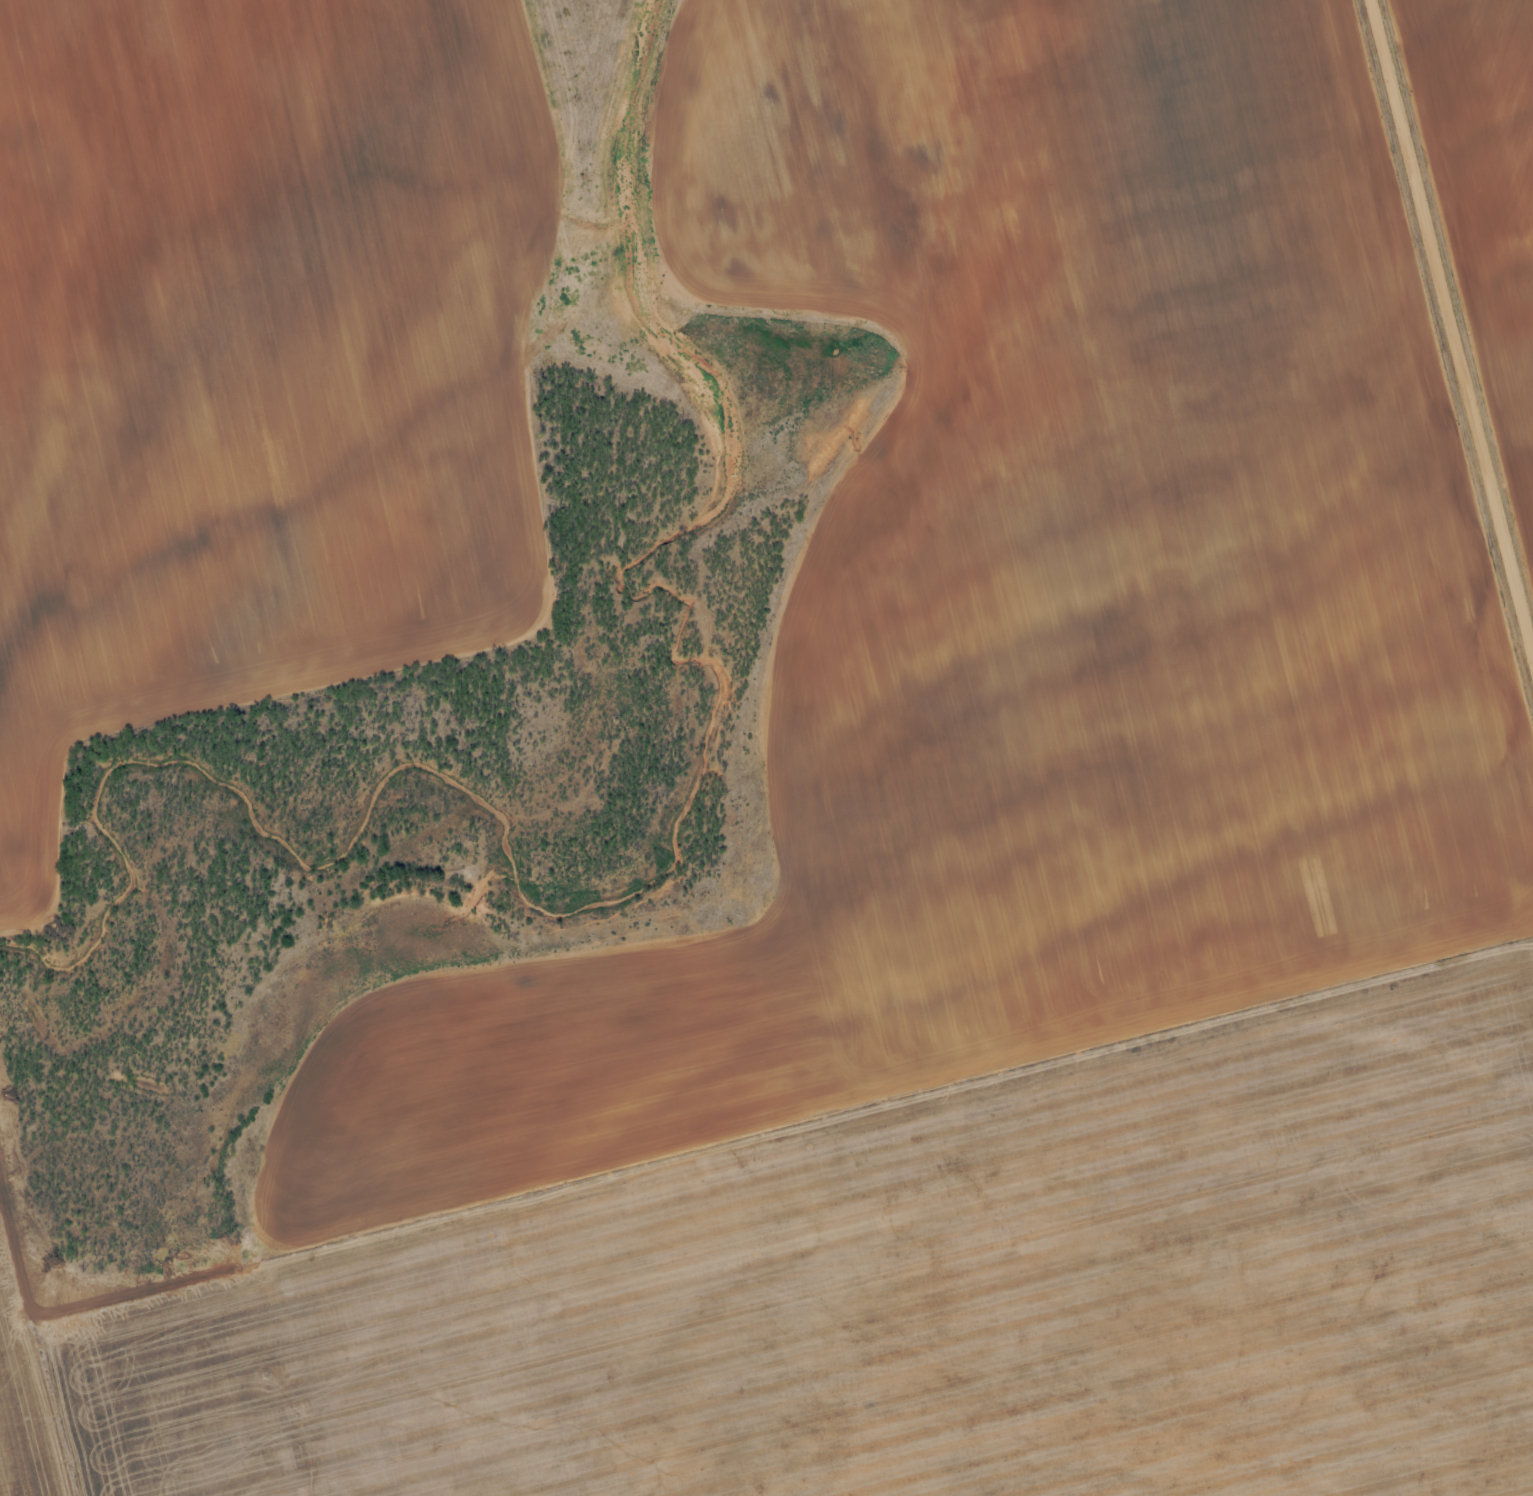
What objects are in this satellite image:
road: (1456, 335)

